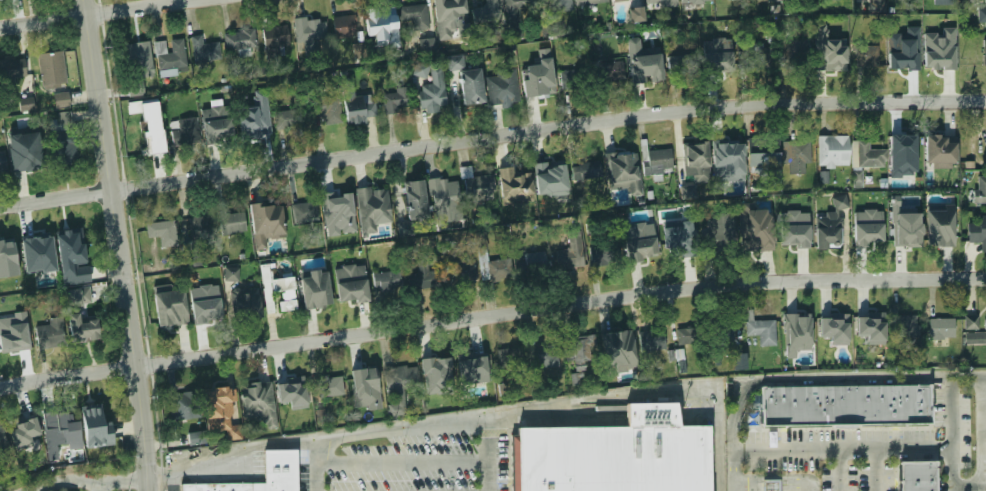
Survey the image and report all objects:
building: (622, 0)
building: (694, 1)
building: (589, 2)
building: (663, 3)
building: (517, 5)
building: (556, 5)
building: (447, 11)
building: (484, 11)
road: (97, 13)
building: (636, 14)
building: (984, 14)
building: (413, 16)
building: (377, 19)
building: (948, 26)
building: (343, 27)
building: (307, 29)
building: (275, 37)
building: (238, 40)
building: (427, 46)
building: (203, 50)
building: (359, 50)
building: (937, 53)
building: (984, 53)
building: (135, 54)
building: (168, 54)
building: (794, 56)
building: (865, 56)
building: (906, 56)
building: (830, 57)
building: (754, 59)
building: (716, 61)
building: (453, 62)
building: (680, 65)
building: (421, 69)
building: (51, 70)
building: (611, 70)
building: (645, 70)
building: (10, 71)
building: (574, 79)
building: (538, 84)
building: (470, 87)
building: (500, 91)
building: (60, 100)
building: (433, 101)
building: (392, 102)
building: (27, 103)
building: (325, 109)
building: (360, 109)
building: (289, 119)
building: (252, 122)
building: (216, 127)
building: (187, 131)
building: (142, 135)
road: (491, 135)
building: (62, 148)
building: (906, 148)
building: (832, 151)
building: (939, 151)
building: (762, 152)
building: (727, 154)
building: (796, 155)
building: (864, 155)
building: (691, 157)
building: (22, 162)
building: (656, 162)
building: (2, 164)
building: (621, 164)
building: (586, 172)
building: (857, 179)
building: (548, 180)
building: (514, 181)
building: (478, 187)
building: (689, 191)
building: (985, 191)
building: (445, 195)
building: (415, 200)
building: (335, 205)
building: (376, 206)
building: (303, 212)
building: (265, 217)
building: (231, 223)
building: (198, 226)
building: (828, 227)
building: (943, 227)
building: (405, 228)
building: (639, 230)
building: (161, 232)
building: (719, 232)
building: (908, 232)
building: (977, 232)
building: (867, 233)
building: (797, 235)
building: (758, 238)
building: (72, 240)
building: (674, 243)
road: (119, 245)
building: (642, 247)
building: (570, 252)
building: (7, 253)
building: (39, 254)
building: (600, 256)
building: (534, 264)
building: (493, 268)
building: (350, 271)
building: (460, 273)
building: (230, 274)
building: (419, 276)
building: (433, 278)
building: (192, 279)
building: (353, 279)
building: (381, 281)
building: (272, 288)
building: (353, 291)
building: (89, 293)
building: (313, 293)
building: (286, 305)
building: (210, 306)
building: (246, 306)
building: (172, 310)
road: (491, 316)
building: (985, 318)
building: (971, 322)
building: (86, 324)
building: (904, 327)
building: (869, 328)
building: (795, 329)
building: (829, 329)
building: (940, 329)
building: (721, 331)
building: (761, 331)
building: (48, 335)
building: (687, 336)
building: (975, 337)
building: (15, 341)
building: (651, 341)
building: (616, 342)
building: (579, 348)
building: (541, 357)
building: (508, 359)
building: (739, 361)
building: (473, 367)
building: (433, 373)
building: (577, 378)
road: (813, 381)
building: (361, 383)
building: (400, 386)
building: (329, 388)
building: (286, 390)
building: (256, 396)
building: (221, 404)
building: (186, 405)
building: (844, 406)
building: (99, 414)
road: (473, 416)
building: (59, 424)
building: (22, 426)
road: (951, 430)
road: (984, 433)
building: (197, 437)
building: (3, 442)
road: (841, 446)
road: (486, 452)
building: (615, 454)
road: (400, 463)
road: (314, 465)
building: (279, 467)
road: (837, 468)
road: (876, 468)
building: (916, 476)
road: (88, 480)
road: (965, 483)
road: (172, 484)
building: (770, 485)
road: (100, 486)

